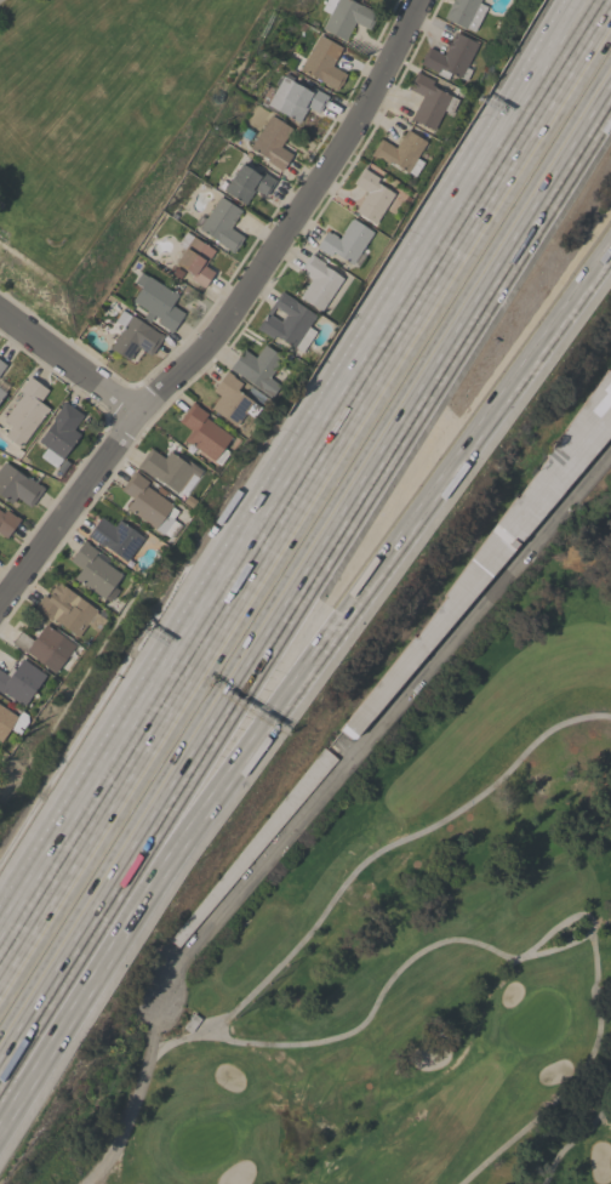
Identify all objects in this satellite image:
building: (365, 0)
building: (466, 13)
building: (346, 17)
building: (451, 58)
building: (324, 63)
building: (290, 99)
building: (430, 102)
building: (268, 141)
building: (401, 153)
road: (478, 181)
building: (249, 183)
road: (493, 184)
building: (372, 195)
building: (221, 224)
building: (347, 243)
building: (195, 258)
building: (319, 281)
building: (158, 302)
road: (228, 315)
building: (289, 323)
building: (135, 336)
road: (68, 365)
building: (1, 366)
building: (258, 369)
building: (2, 388)
building: (232, 400)
building: (25, 412)
building: (59, 434)
building: (205, 434)
building: (167, 468)
building: (17, 486)
building: (150, 506)
building: (7, 523)
building: (115, 537)
building: (498, 542)
building: (95, 570)
road: (305, 588)
building: (68, 610)
building: (45, 647)
road: (188, 661)
road: (304, 673)
building: (21, 682)
road: (395, 702)
building: (11, 722)
building: (257, 842)
road: (185, 1040)
road: (238, 1043)
road: (598, 1081)
road: (135, 1098)
road: (523, 1132)
road: (572, 1140)

